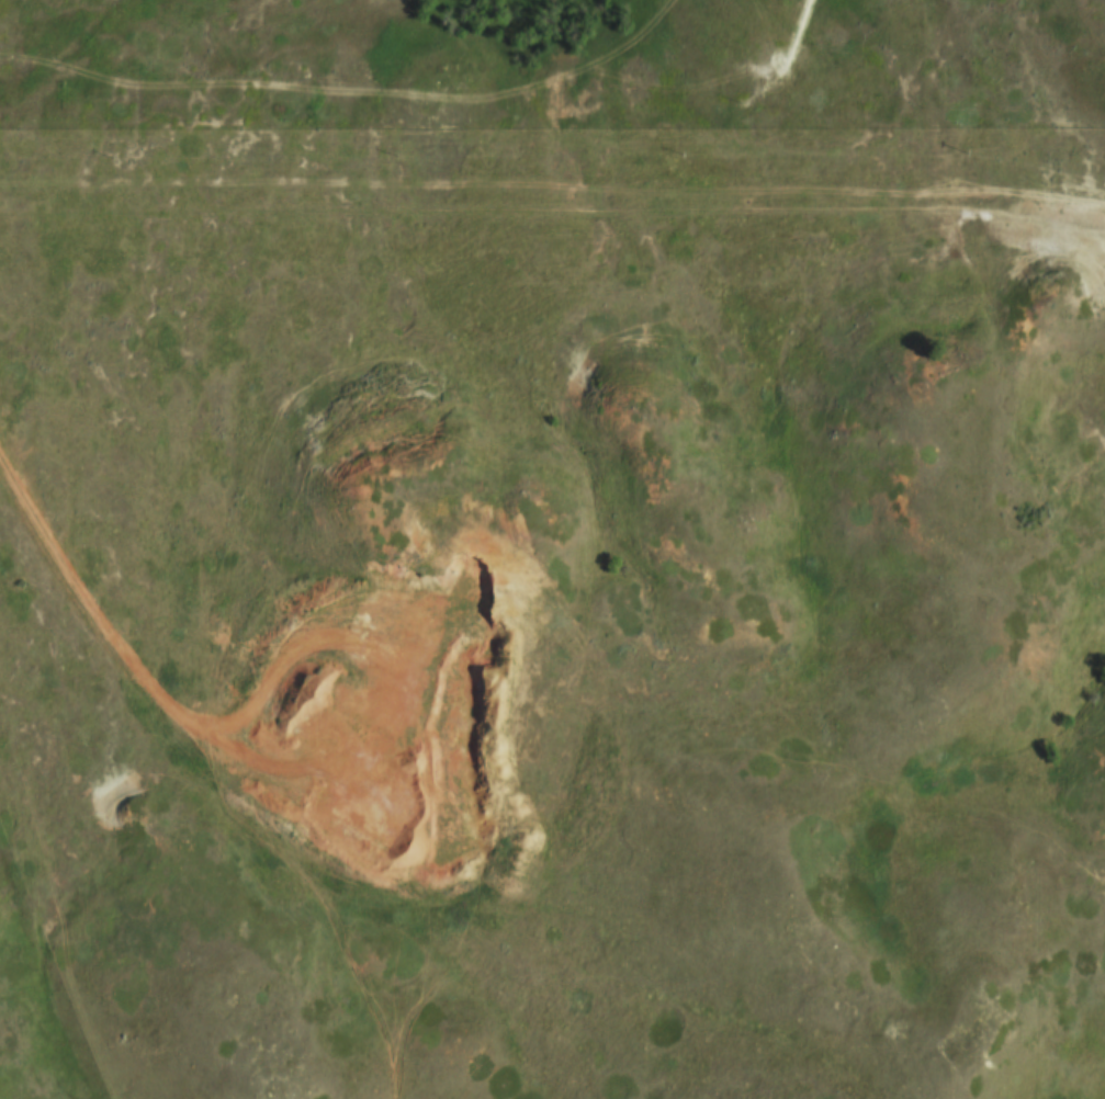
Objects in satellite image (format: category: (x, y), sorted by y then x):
road: (553, 184)
road: (201, 743)

